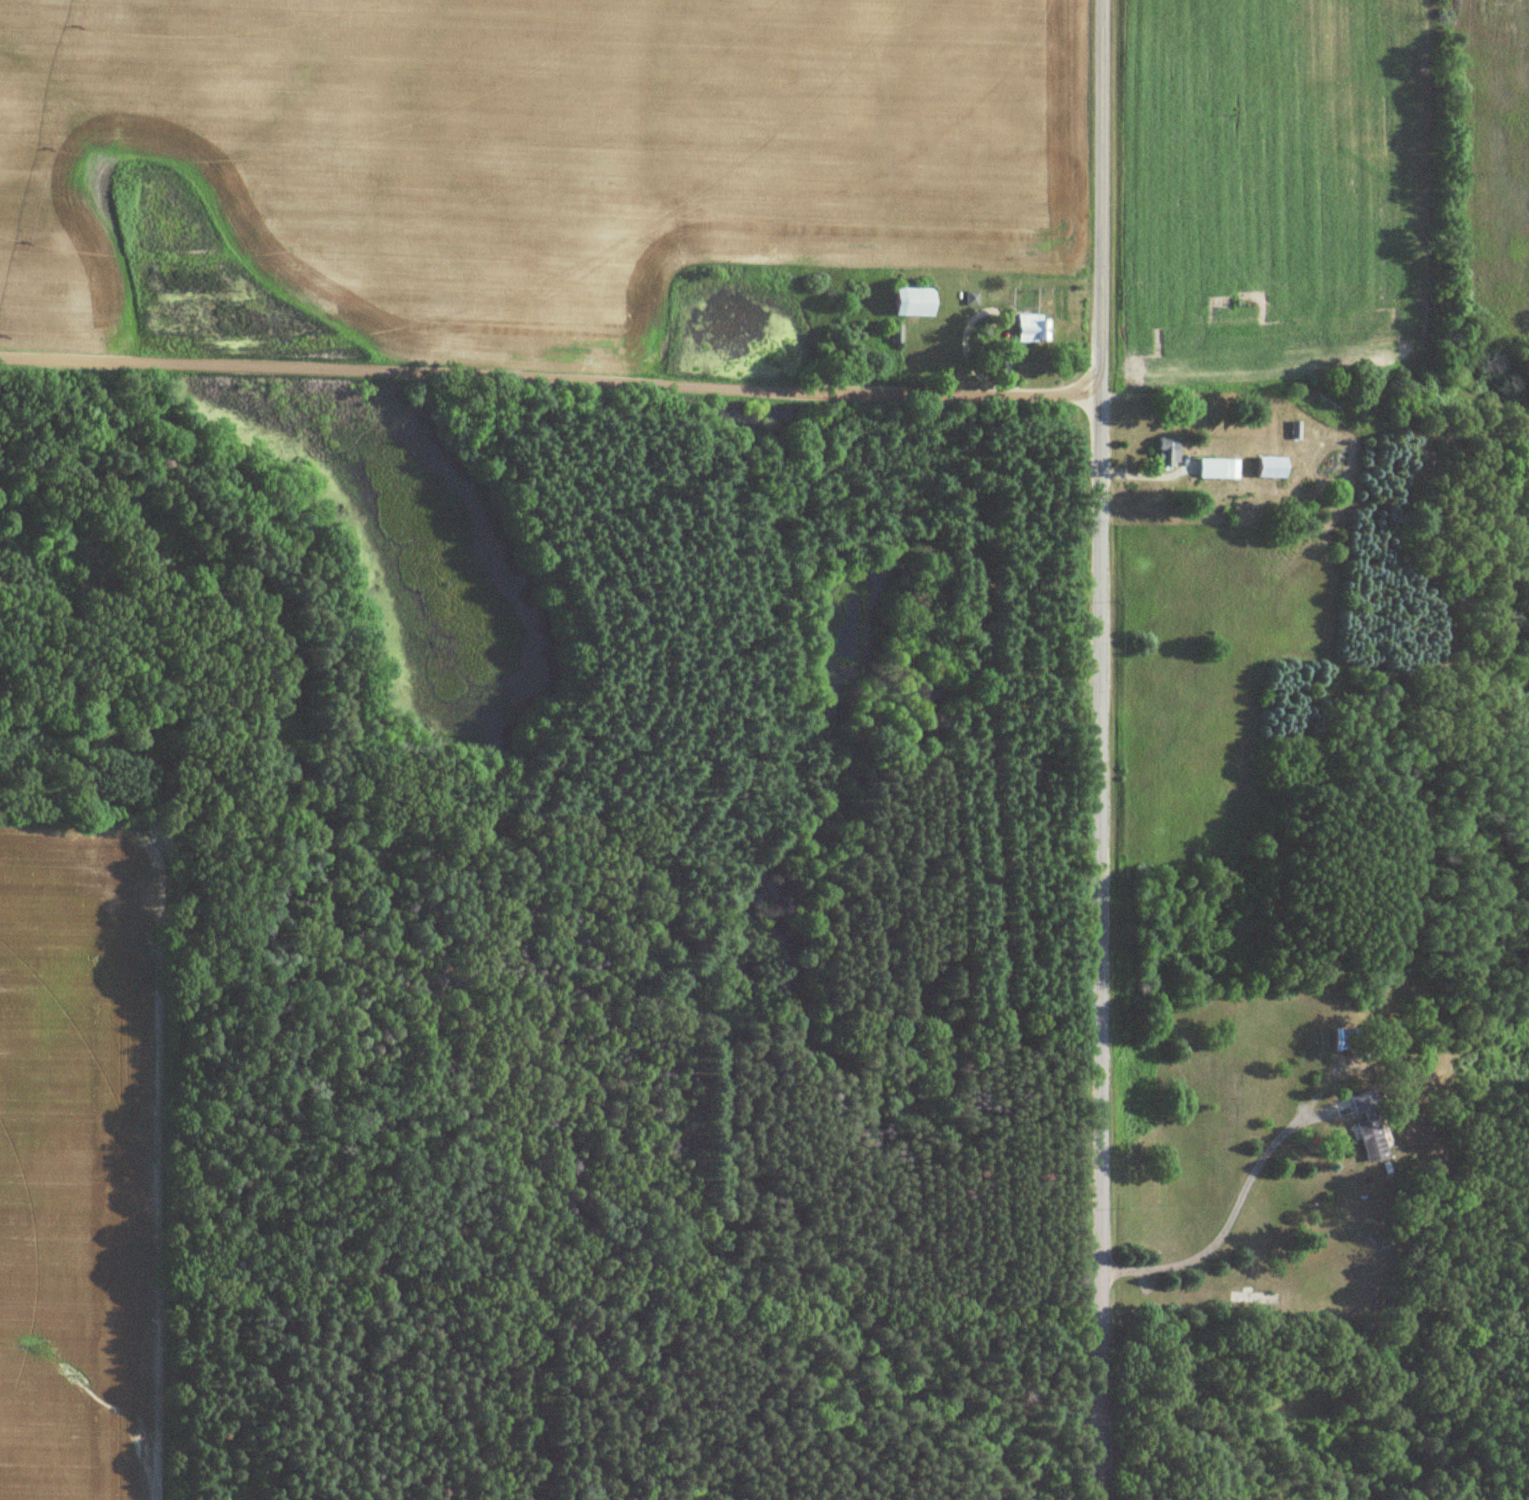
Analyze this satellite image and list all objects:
building: (916, 302)
building: (1033, 328)
road: (550, 372)
road: (1314, 396)
building: (1167, 452)
building: (1272, 468)
building: (1217, 470)
road: (1101, 749)
building: (1345, 1040)
building: (1370, 1139)
road: (1233, 1209)

